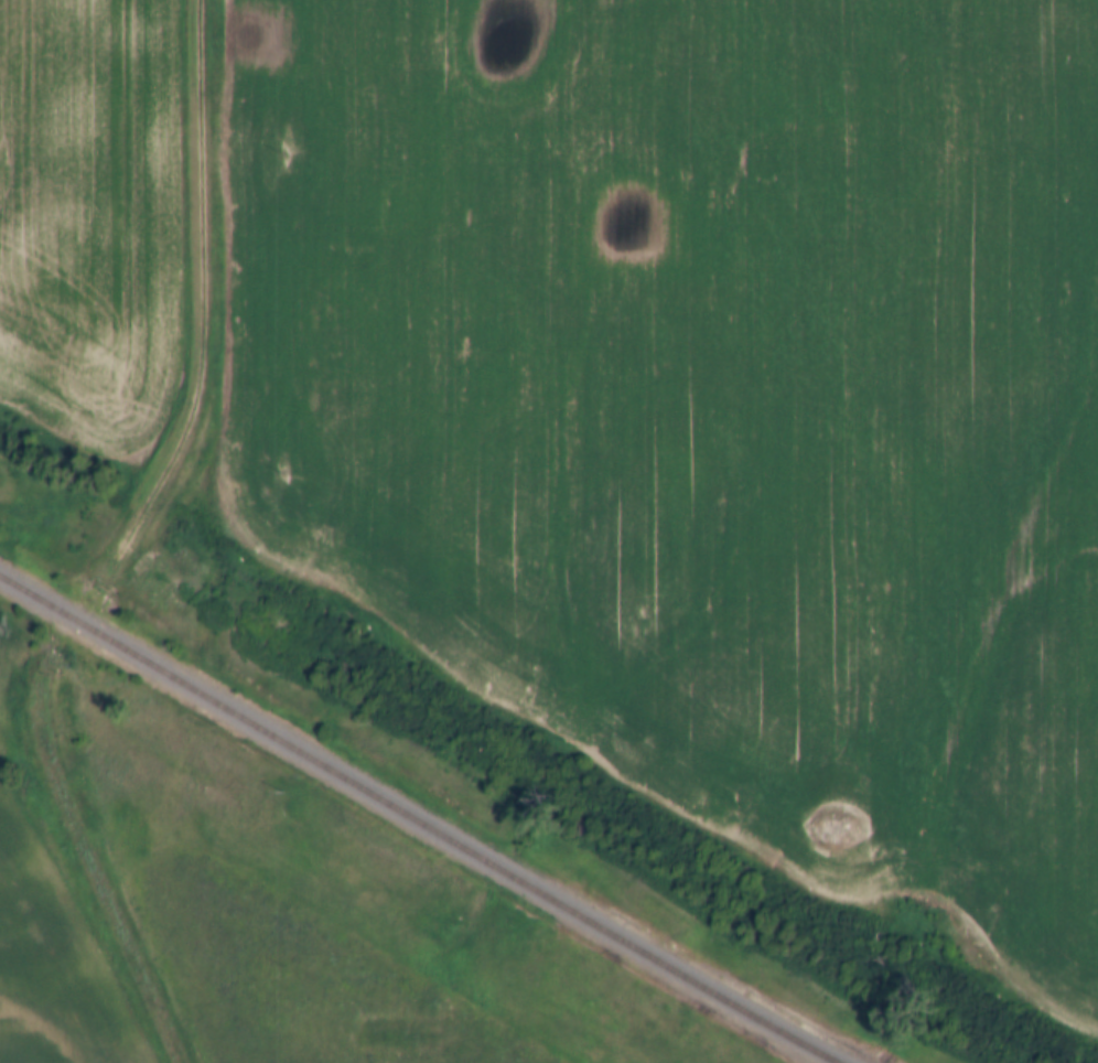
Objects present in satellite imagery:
road: (204, 290)
railway: (415, 823)
road: (101, 870)

